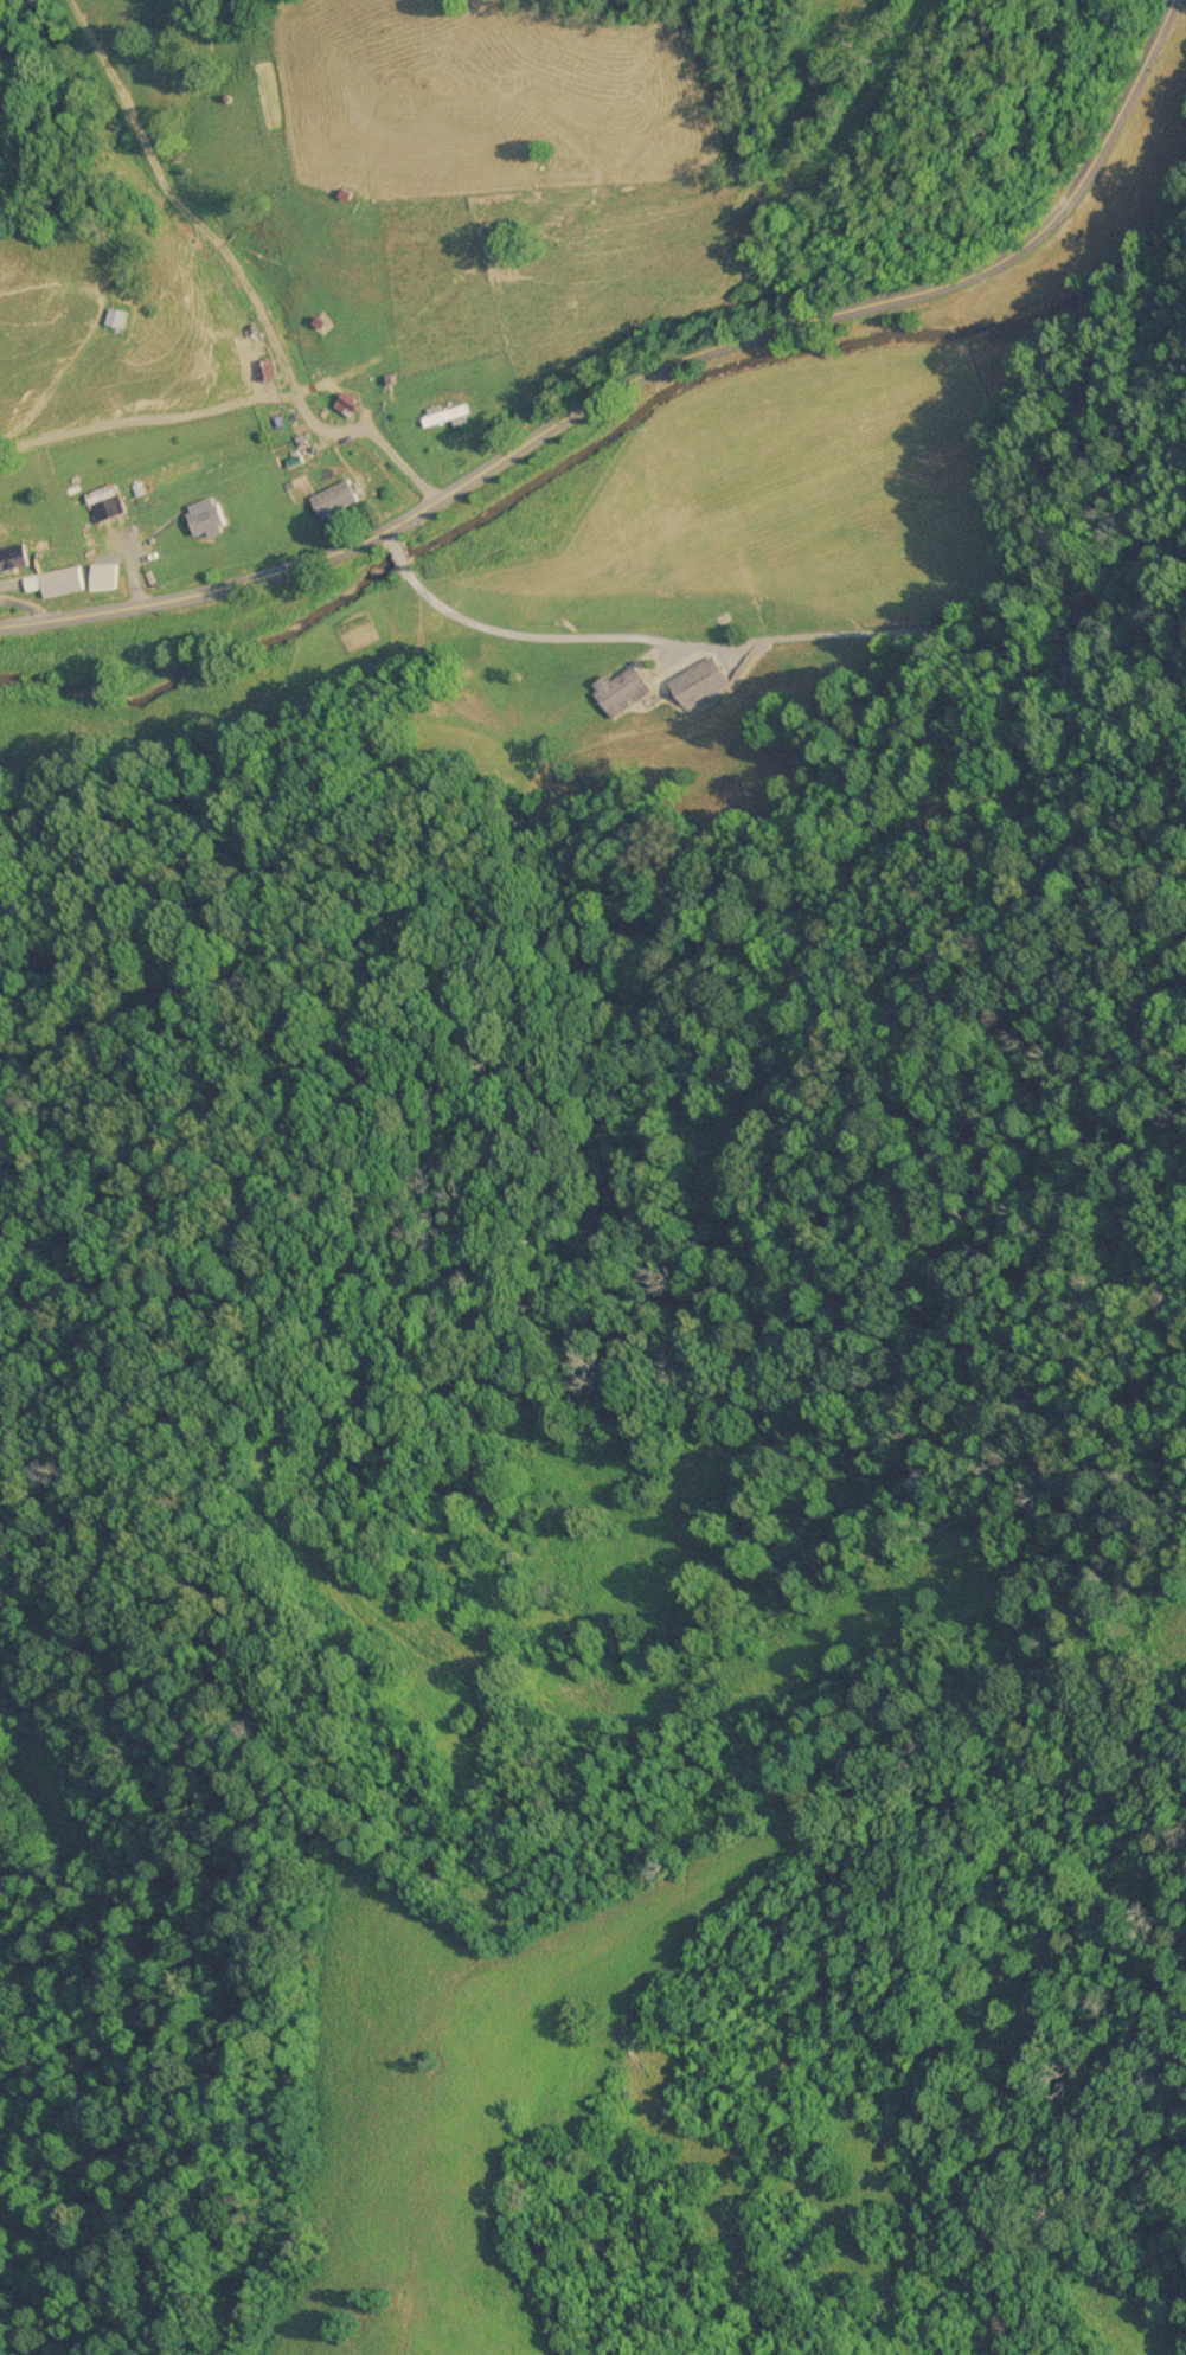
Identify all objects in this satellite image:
building: (124, 315)
road: (641, 381)
building: (348, 404)
building: (447, 412)
road: (373, 439)
building: (335, 496)
building: (108, 501)
building: (210, 515)
building: (14, 556)
building: (58, 579)
road: (703, 653)
building: (663, 669)
building: (623, 687)

